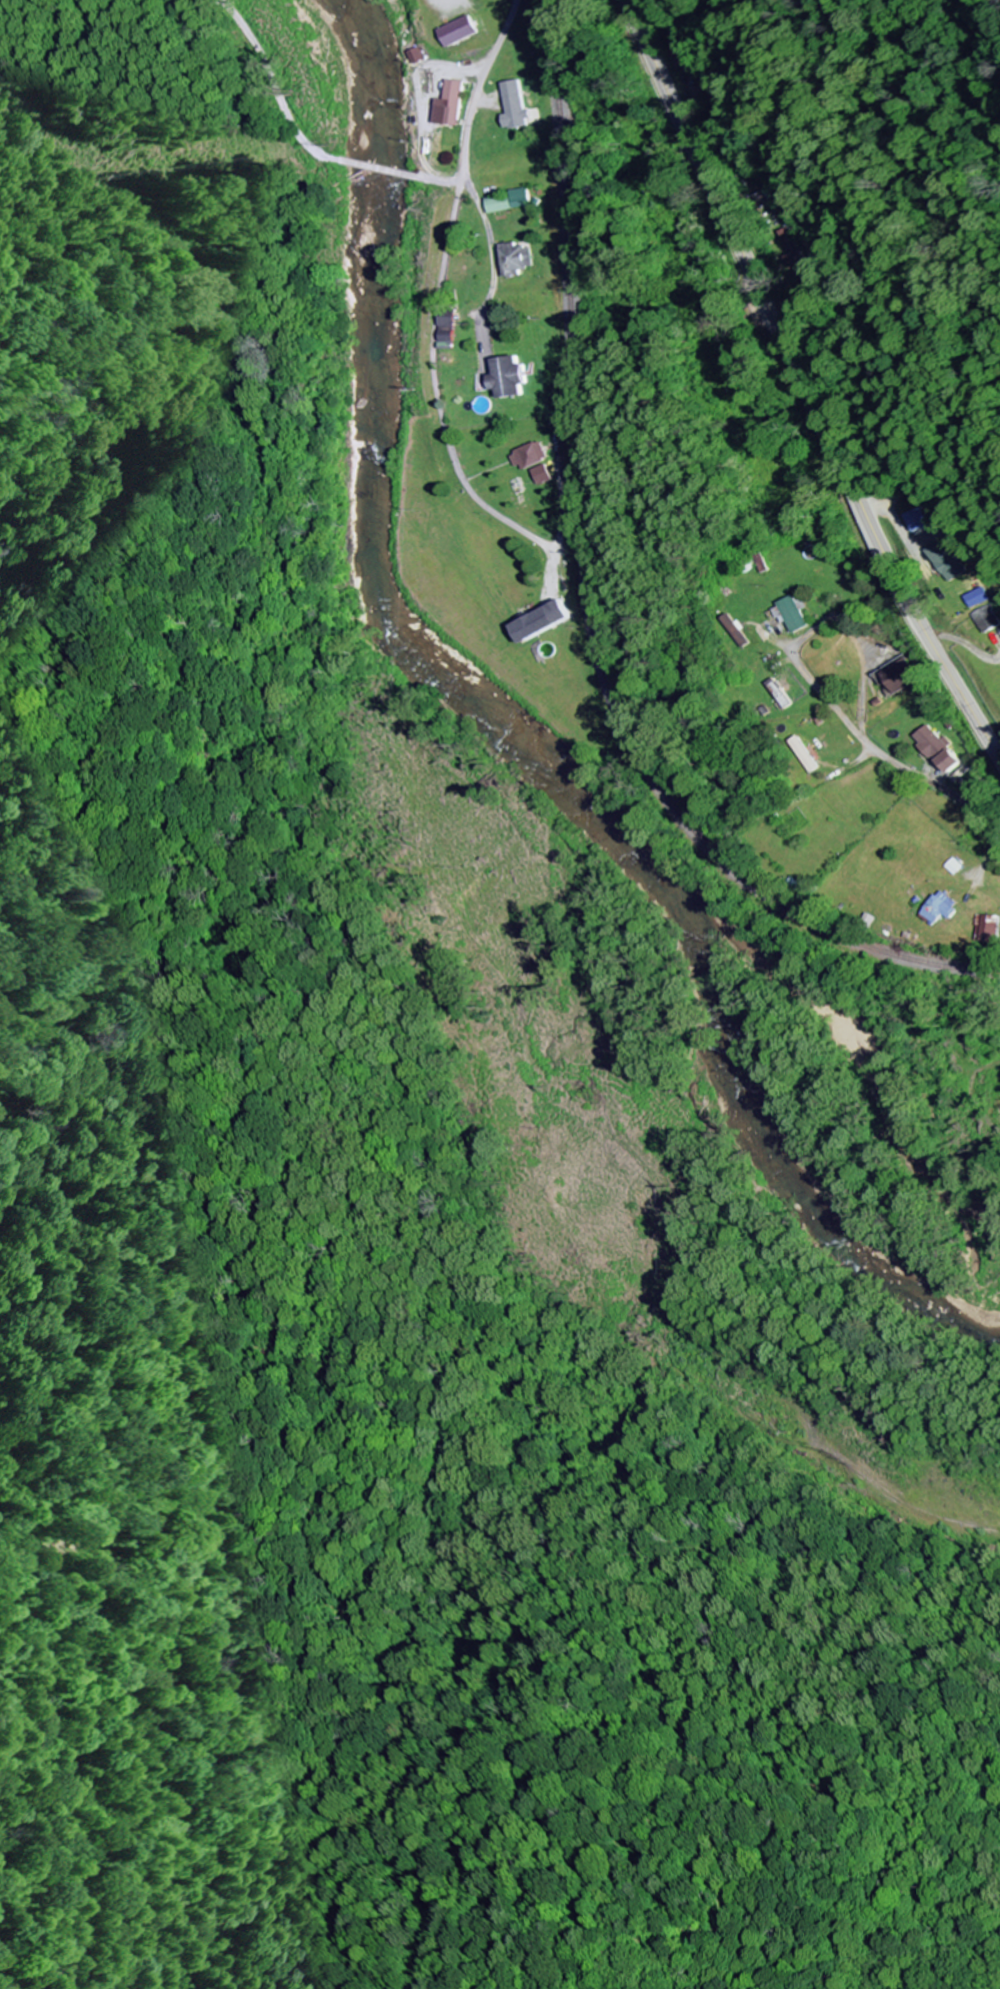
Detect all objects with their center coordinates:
building: (460, 30)
building: (416, 54)
road: (461, 68)
road: (276, 86)
road: (473, 91)
building: (450, 103)
building: (514, 105)
road: (378, 168)
road: (436, 183)
building: (518, 196)
building: (497, 202)
building: (791, 247)
building: (514, 258)
building: (447, 326)
building: (510, 376)
road: (803, 383)
road: (438, 396)
building: (531, 455)
road: (874, 466)
building: (543, 473)
building: (913, 519)
building: (942, 560)
railway: (590, 596)
building: (972, 597)
building: (795, 613)
building: (980, 618)
building: (544, 620)
building: (740, 629)
building: (898, 675)
road: (814, 679)
river: (516, 732)
building: (930, 741)
building: (811, 753)
building: (950, 760)
road: (931, 782)
building: (946, 907)
building: (993, 927)
road: (707, 1102)

